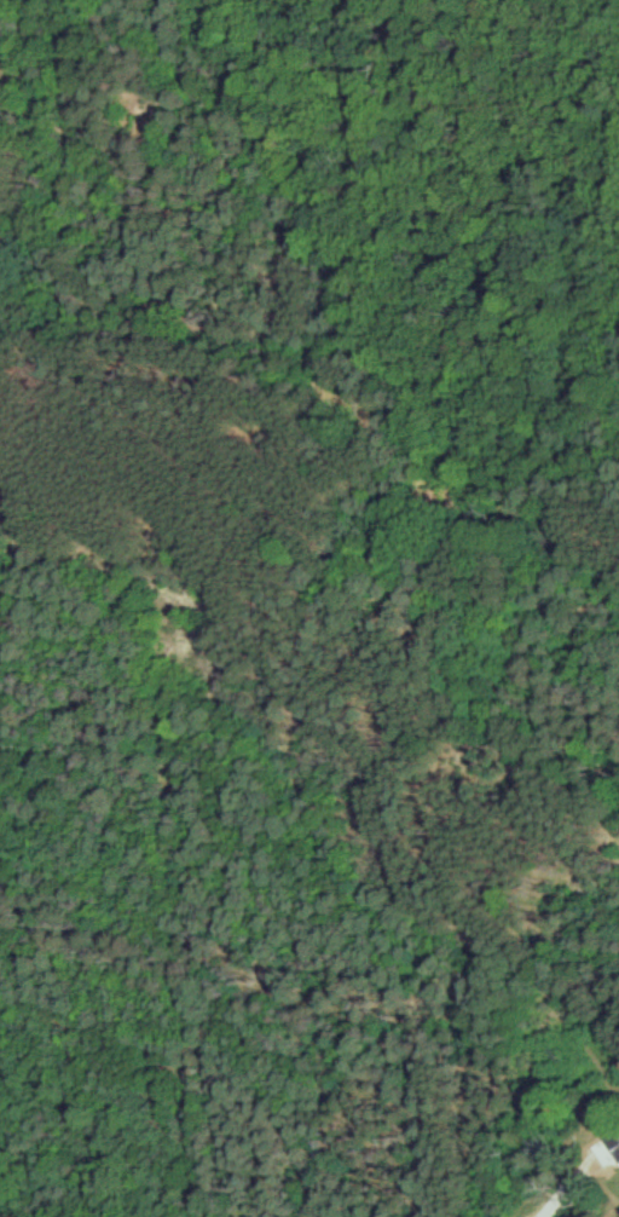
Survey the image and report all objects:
building: (615, 1143)

